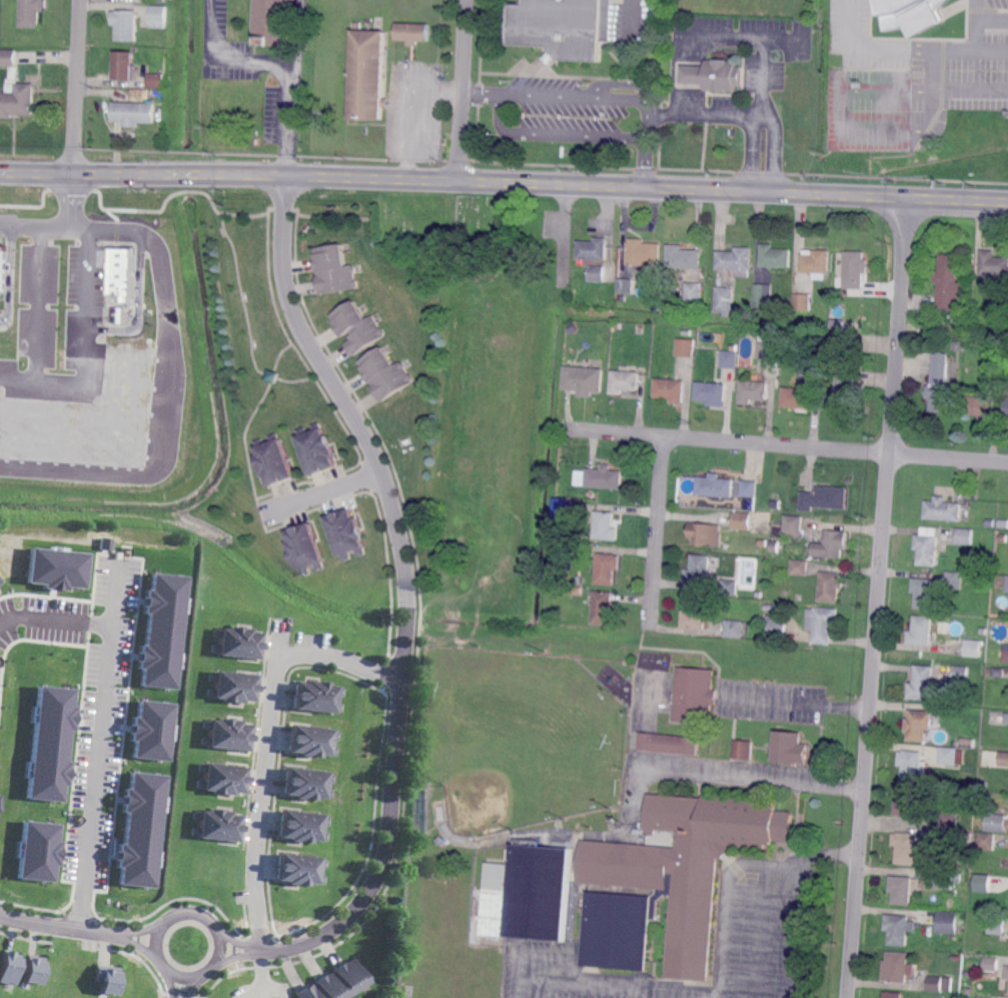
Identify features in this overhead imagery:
building: (417, 6)
building: (33, 13)
building: (912, 14)
building: (157, 17)
road: (993, 17)
building: (276, 22)
building: (126, 24)
road: (207, 27)
building: (562, 27)
building: (414, 31)
road: (297, 34)
road: (763, 37)
road: (691, 48)
road: (916, 48)
building: (126, 66)
road: (931, 69)
building: (370, 74)
road: (690, 75)
building: (714, 76)
parking lot: (911, 77)
road: (286, 78)
road: (618, 80)
building: (156, 81)
road: (77, 86)
road: (969, 89)
building: (16, 90)
road: (477, 91)
road: (458, 93)
road: (618, 97)
road: (690, 99)
building: (135, 112)
road: (706, 113)
road: (764, 114)
road: (842, 128)
road: (429, 132)
road: (555, 134)
road: (48, 171)
road: (487, 187)
road: (942, 201)
road: (56, 224)
park: (449, 231)
building: (643, 253)
building: (775, 256)
building: (594, 257)
building: (684, 257)
building: (736, 261)
building: (816, 263)
building: (993, 263)
building: (2, 268)
building: (334, 270)
building: (855, 270)
building: (123, 275)
building: (948, 282)
building: (576, 285)
building: (626, 285)
building: (693, 295)
building: (763, 295)
building: (723, 300)
building: (802, 301)
road: (38, 303)
building: (944, 319)
building: (357, 327)
building: (686, 333)
building: (842, 343)
building: (958, 346)
road: (82, 347)
building: (686, 347)
building: (769, 347)
building: (815, 356)
building: (730, 358)
building: (811, 367)
building: (385, 374)
building: (272, 377)
building: (584, 379)
building: (625, 381)
building: (996, 382)
building: (940, 384)
road: (167, 385)
building: (671, 389)
building: (753, 390)
building: (712, 393)
building: (847, 393)
building: (797, 399)
building: (980, 406)
building: (1005, 407)
road: (786, 445)
building: (317, 450)
building: (274, 461)
building: (603, 478)
building: (714, 486)
road: (320, 487)
building: (749, 487)
building: (824, 499)
building: (776, 504)
building: (560, 508)
building: (942, 509)
building: (742, 521)
building: (989, 523)
building: (1003, 524)
building: (604, 526)
building: (792, 526)
road: (657, 533)
building: (347, 534)
building: (706, 535)
building: (965, 537)
building: (763, 543)
building: (832, 544)
building: (928, 544)
building: (774, 546)
building: (305, 549)
building: (763, 551)
building: (55, 568)
building: (605, 568)
building: (799, 568)
building: (699, 570)
building: (954, 581)
building: (1007, 585)
building: (729, 587)
building: (831, 587)
road: (404, 592)
building: (923, 593)
road: (114, 596)
road: (878, 599)
building: (602, 608)
building: (694, 615)
building: (823, 624)
building: (775, 627)
building: (733, 630)
building: (160, 631)
building: (921, 631)
building: (237, 643)
building: (972, 649)
building: (1002, 655)
road: (341, 657)
building: (998, 672)
building: (960, 676)
building: (922, 683)
building: (232, 687)
building: (694, 695)
building: (317, 698)
road: (796, 704)
building: (1007, 719)
road: (102, 721)
building: (918, 725)
building: (150, 729)
building: (227, 735)
park: (526, 738)
building: (49, 742)
building: (312, 742)
building: (967, 742)
building: (667, 746)
building: (790, 748)
building: (705, 750)
building: (742, 750)
building: (949, 756)
building: (1004, 758)
building: (911, 765)
road: (720, 777)
building: (223, 780)
building: (424, 782)
building: (308, 785)
road: (263, 786)
building: (982, 786)
building: (911, 802)
building: (949, 819)
building: (996, 823)
building: (218, 826)
building: (304, 827)
building: (140, 829)
building: (968, 837)
building: (955, 839)
building: (442, 841)
building: (985, 841)
building: (37, 849)
building: (908, 849)
building: (300, 868)
road: (733, 869)
building: (958, 878)
building: (944, 879)
building: (670, 881)
building: (981, 881)
building: (902, 889)
building: (529, 894)
building: (947, 923)
road: (61, 925)
building: (997, 925)
road: (145, 927)
road: (797, 928)
building: (899, 929)
building: (961, 929)
road: (759, 931)
road: (141, 943)
road: (255, 949)
road: (545, 956)
building: (991, 965)
building: (898, 967)
building: (9, 968)
road: (169, 968)
building: (34, 972)
building: (1007, 972)
building: (968, 973)
building: (105, 979)
road: (573, 982)
building: (339, 983)
road: (174, 984)
building: (940, 984)
road: (191, 986)
building: (894, 995)
building: (979, 997)

